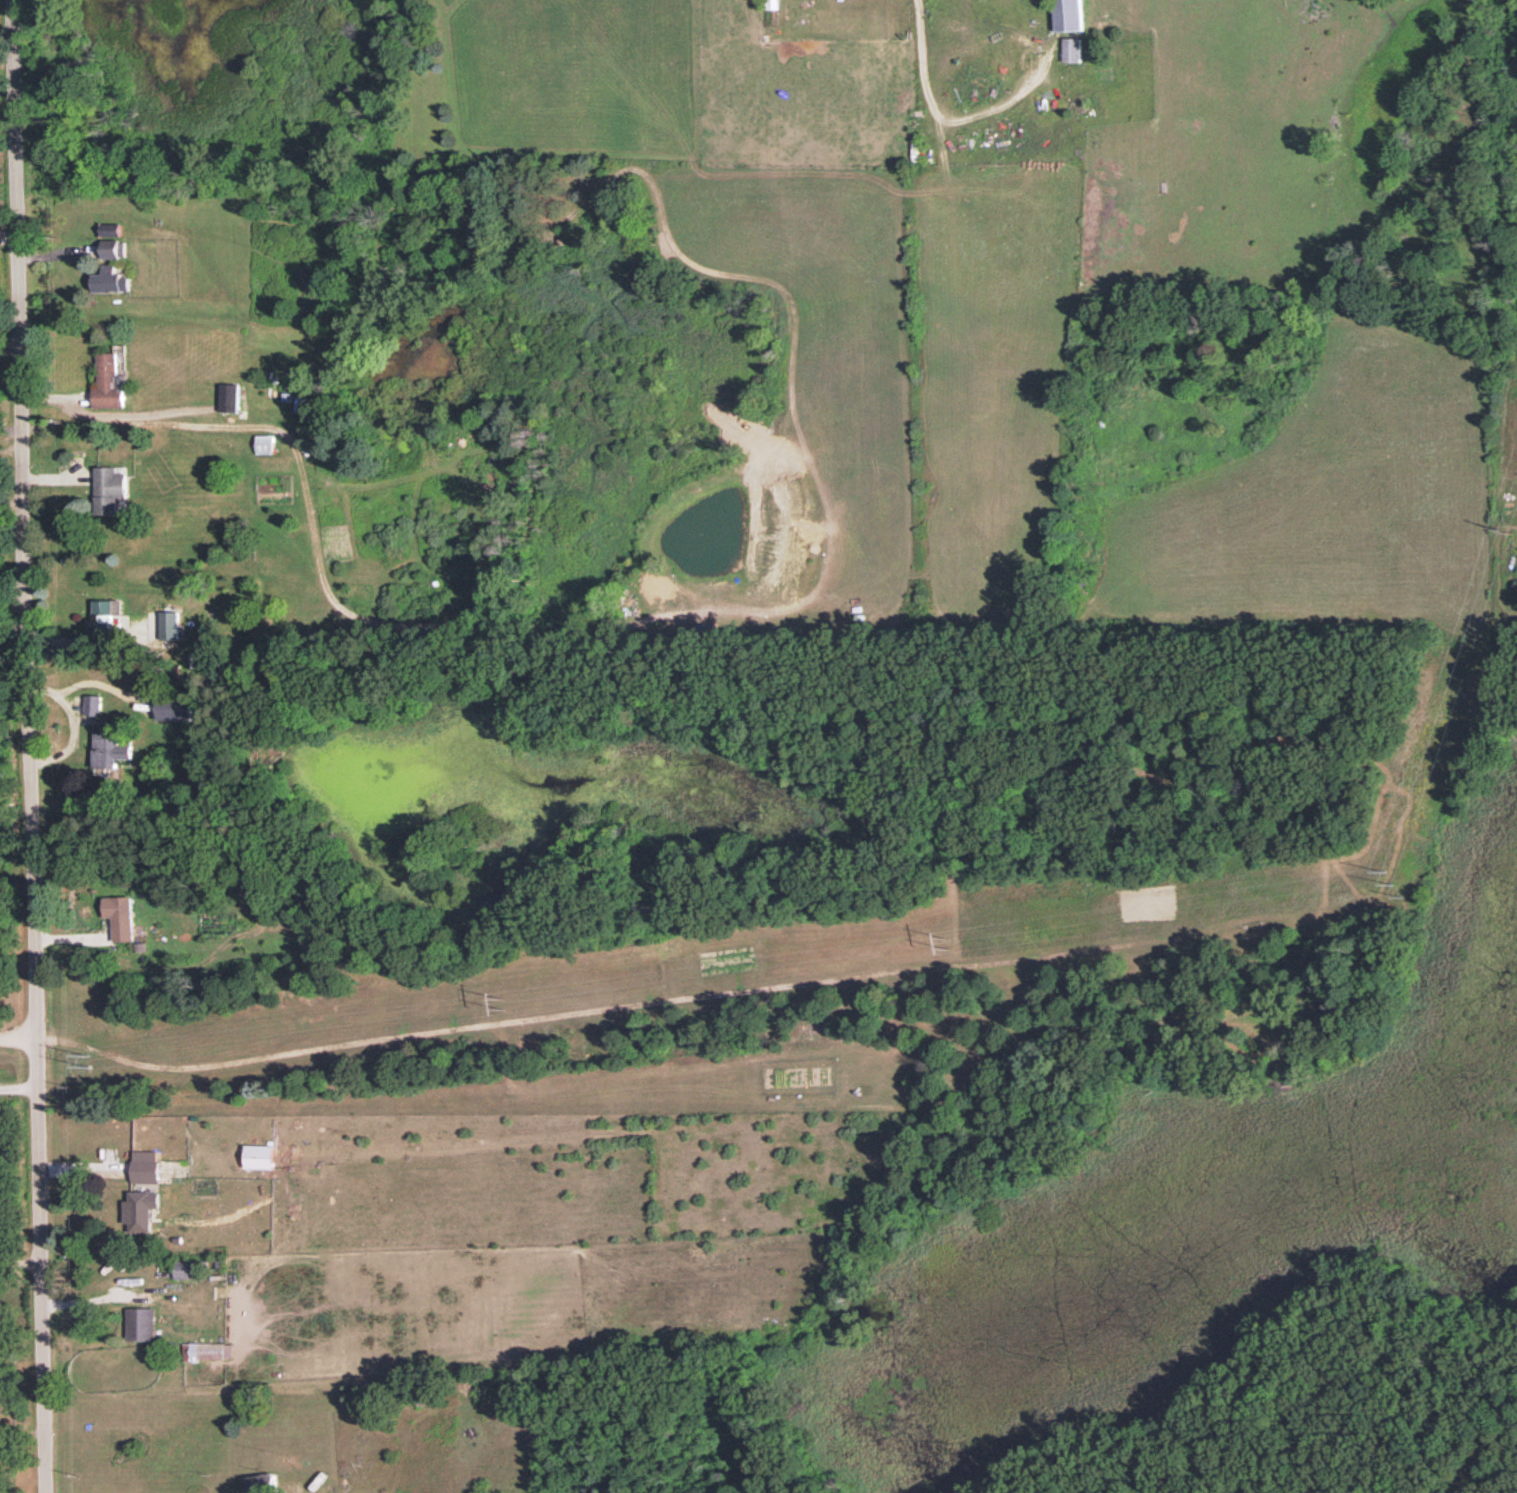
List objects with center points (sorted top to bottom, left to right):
building: (1069, 14)
building: (1072, 49)
building: (111, 279)
building: (107, 381)
building: (229, 396)
building: (264, 443)
power tower: (1502, 528)
building: (661, 587)
building: (173, 624)
building: (95, 704)
building: (178, 709)
road: (74, 722)
building: (111, 745)
road: (26, 746)
power tower: (1384, 882)
building: (120, 916)
power tower: (947, 940)
power tower: (502, 1001)
road: (16, 1031)
power tower: (78, 1058)
road: (17, 1087)
building: (259, 1155)
building: (145, 1171)
building: (140, 1209)
building: (184, 1268)
building: (141, 1323)
building: (207, 1350)
building: (263, 1483)

